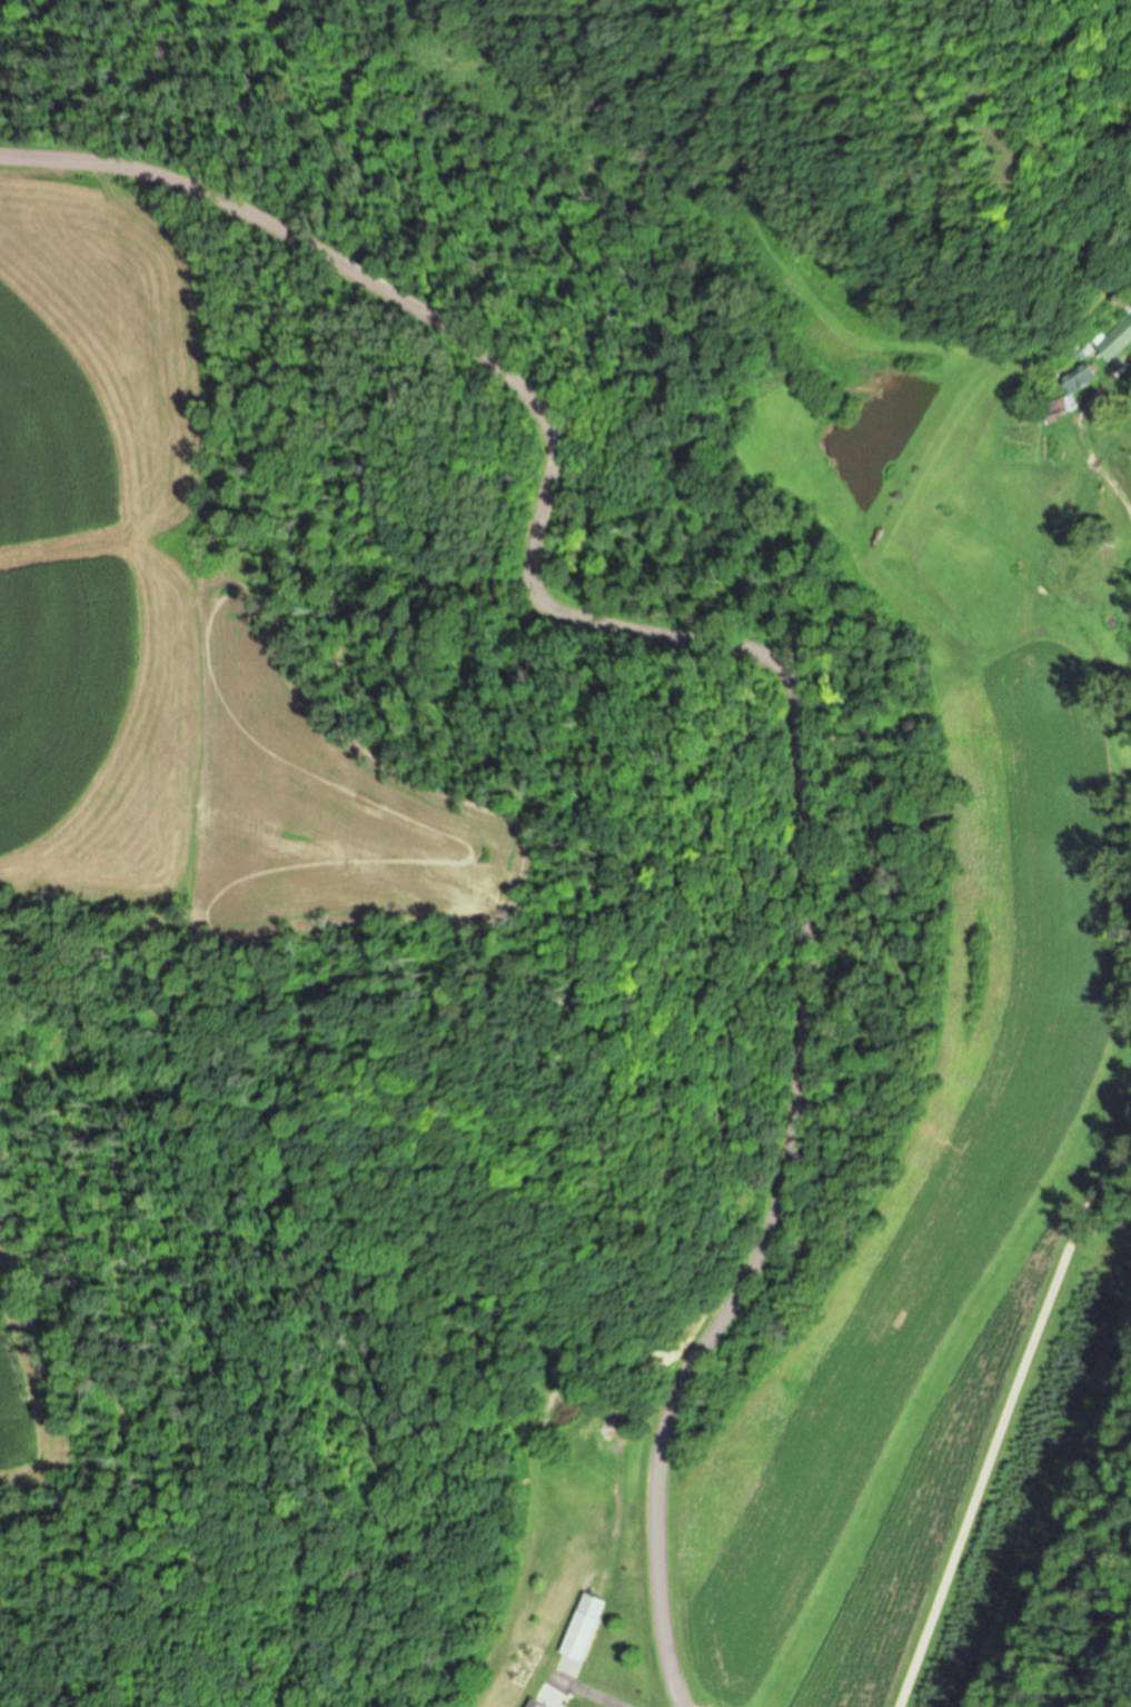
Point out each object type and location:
building: (1118, 345)
road: (795, 679)
road: (1013, 1419)
building: (585, 1627)
road: (597, 1691)
building: (534, 1703)

